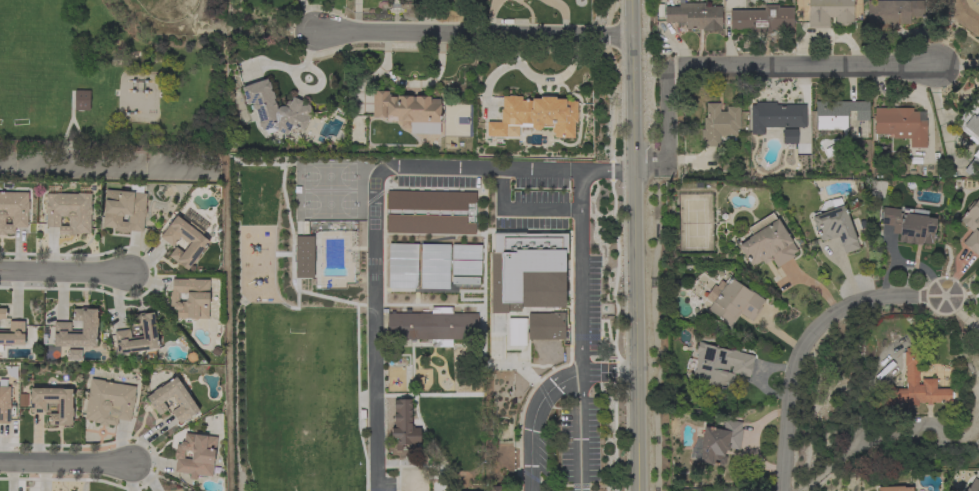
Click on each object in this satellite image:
park: (167, 8)
building: (891, 12)
building: (829, 13)
building: (965, 14)
road: (307, 16)
building: (695, 16)
building: (761, 18)
road: (472, 35)
road: (959, 64)
road: (733, 68)
park: (110, 72)
road: (410, 83)
building: (81, 100)
building: (275, 109)
building: (408, 111)
building: (838, 114)
building: (536, 115)
building: (775, 116)
building: (719, 123)
building: (970, 123)
building: (901, 124)
building: (789, 135)
building: (972, 164)
road: (103, 168)
road: (371, 204)
building: (124, 209)
road: (518, 210)
building: (13, 211)
building: (69, 212)
building: (430, 212)
building: (971, 216)
building: (909, 225)
building: (835, 226)
building: (185, 238)
building: (972, 242)
building: (767, 243)
road: (631, 245)
building: (465, 251)
building: (302, 257)
building: (402, 265)
building: (434, 266)
building: (465, 267)
building: (525, 271)
road: (66, 273)
building: (246, 282)
building: (190, 298)
building: (732, 301)
building: (2, 313)
building: (544, 322)
building: (432, 326)
building: (77, 330)
building: (515, 332)
building: (122, 333)
building: (13, 334)
road: (579, 342)
road: (813, 344)
building: (719, 365)
road: (606, 377)
building: (914, 387)
building: (183, 400)
building: (4, 402)
building: (108, 402)
building: (37, 405)
building: (404, 424)
road: (579, 434)
building: (716, 442)
road: (855, 451)
building: (195, 455)
road: (66, 461)
building: (973, 485)
building: (494, 488)
building: (894, 488)
building: (192, 490)

